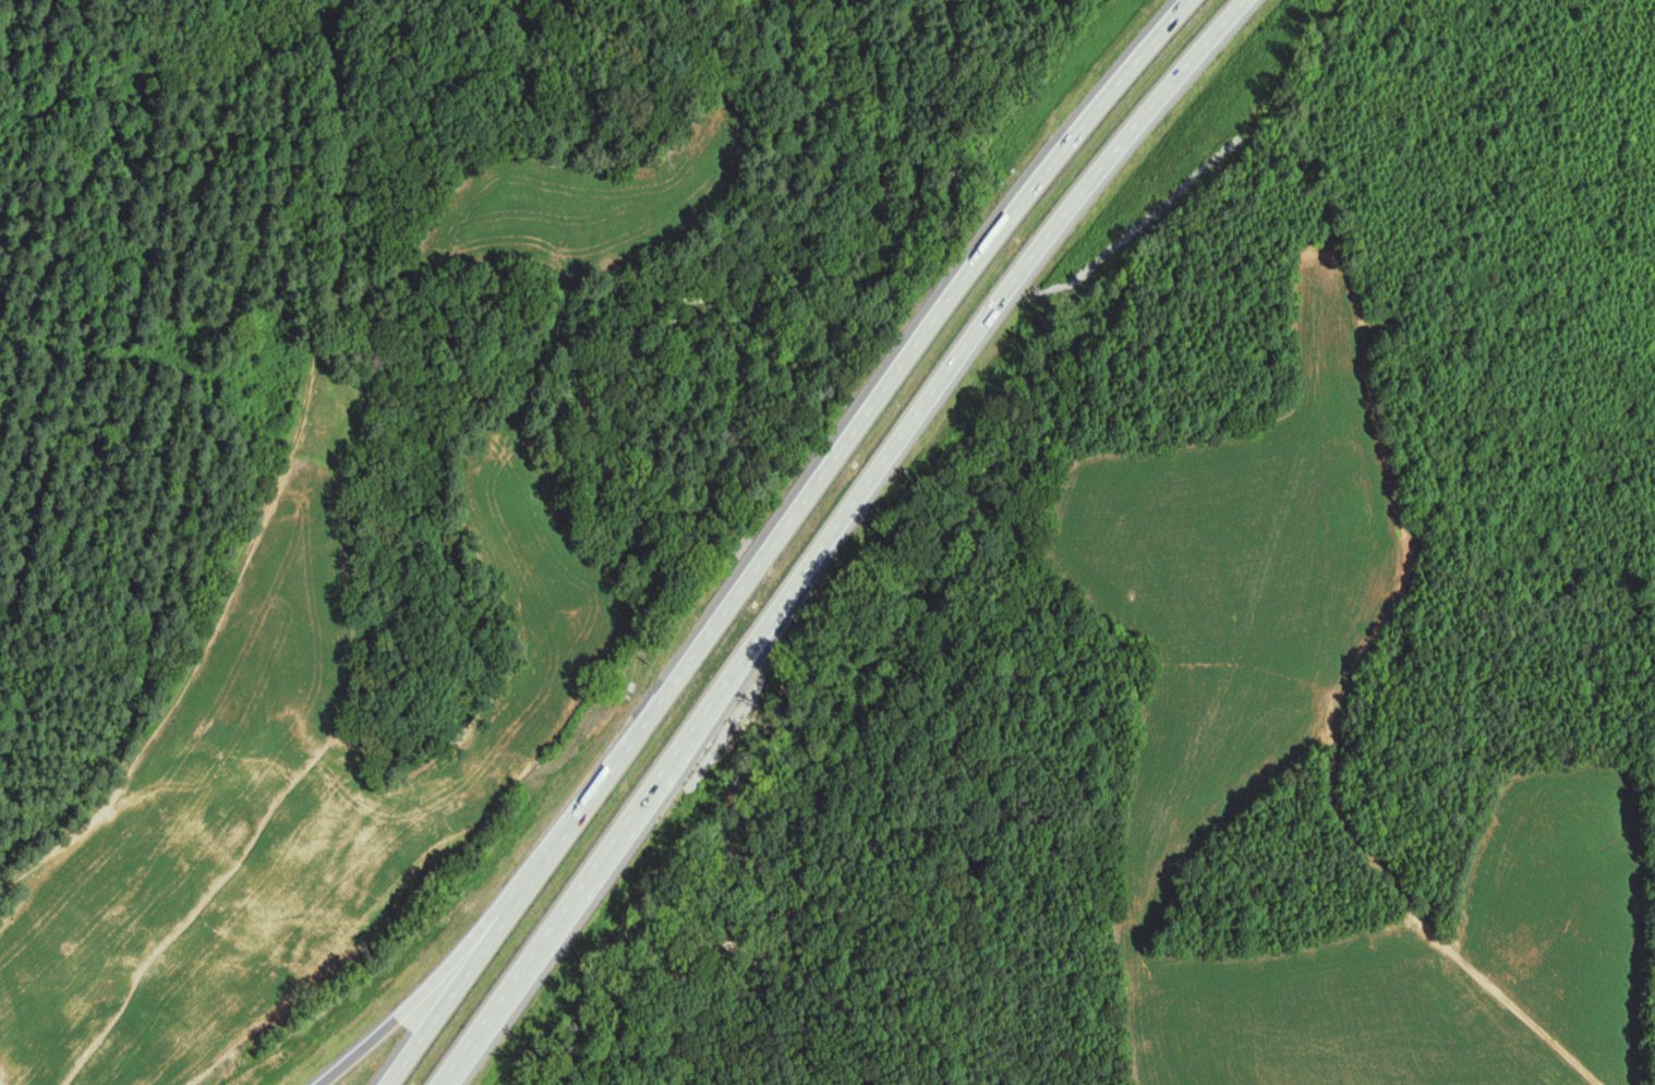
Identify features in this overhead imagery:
road: (774, 532)
road: (842, 533)
road: (423, 989)

